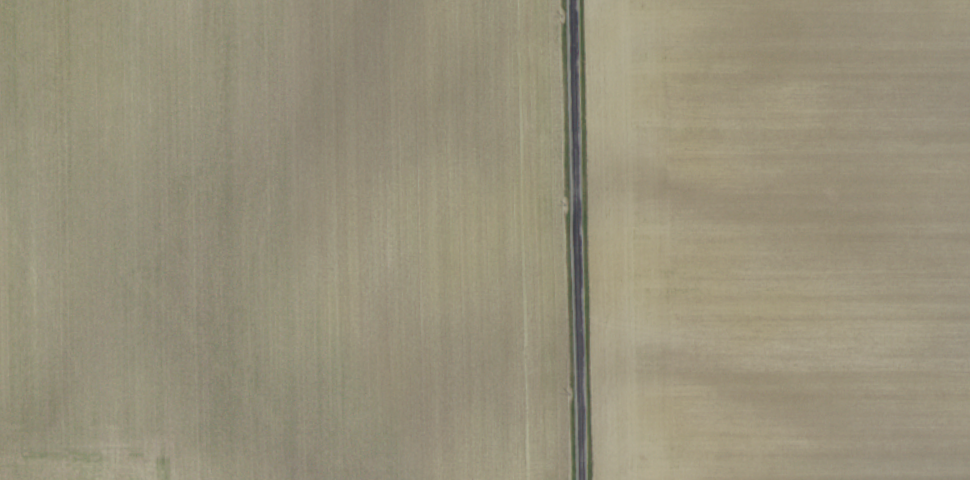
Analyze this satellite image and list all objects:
road: (575, 240)

